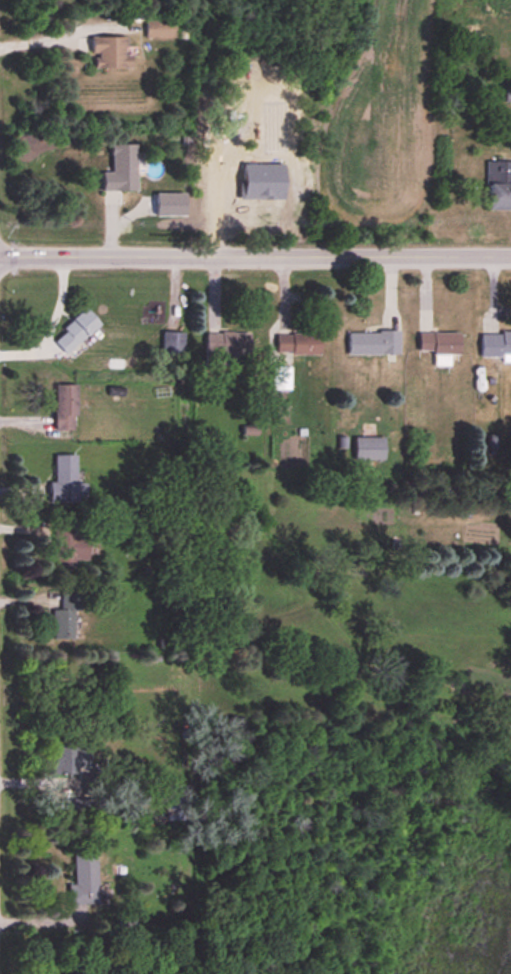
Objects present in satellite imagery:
building: (159, 29)
building: (110, 54)
building: (507, 97)
building: (121, 170)
building: (498, 187)
road: (255, 254)
building: (76, 333)
building: (298, 344)
building: (373, 344)
building: (495, 346)
building: (439, 347)
building: (226, 349)
building: (281, 379)
building: (65, 408)
building: (369, 448)
building: (65, 482)
building: (68, 542)
building: (65, 618)
building: (66, 758)
building: (175, 804)
building: (84, 879)

